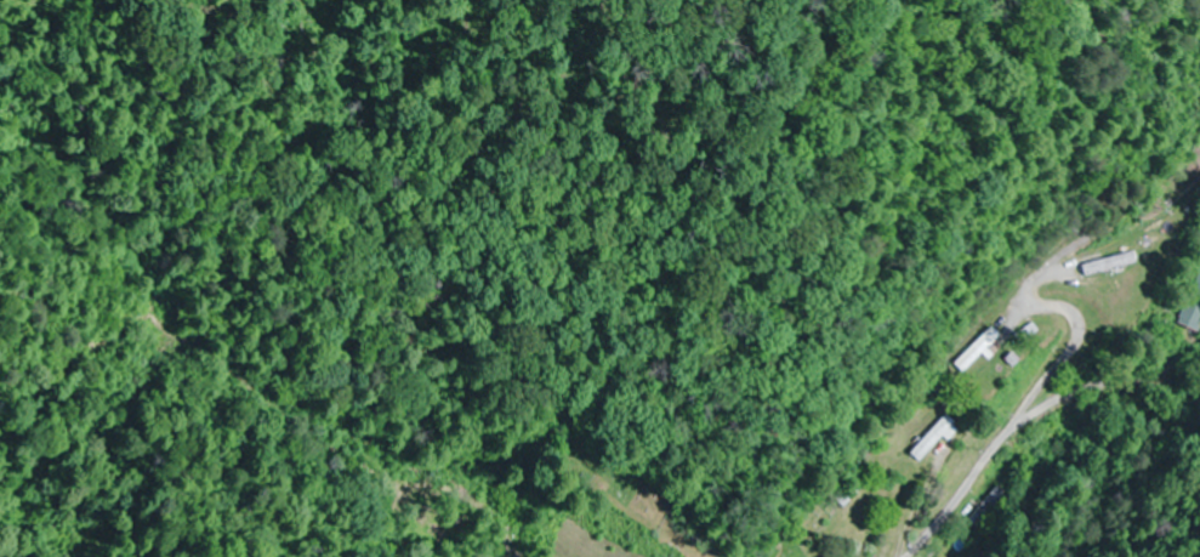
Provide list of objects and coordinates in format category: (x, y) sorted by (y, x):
building: (1109, 265)
building: (1192, 308)
building: (980, 352)
building: (934, 439)
road: (979, 472)
building: (852, 485)
building: (986, 507)

